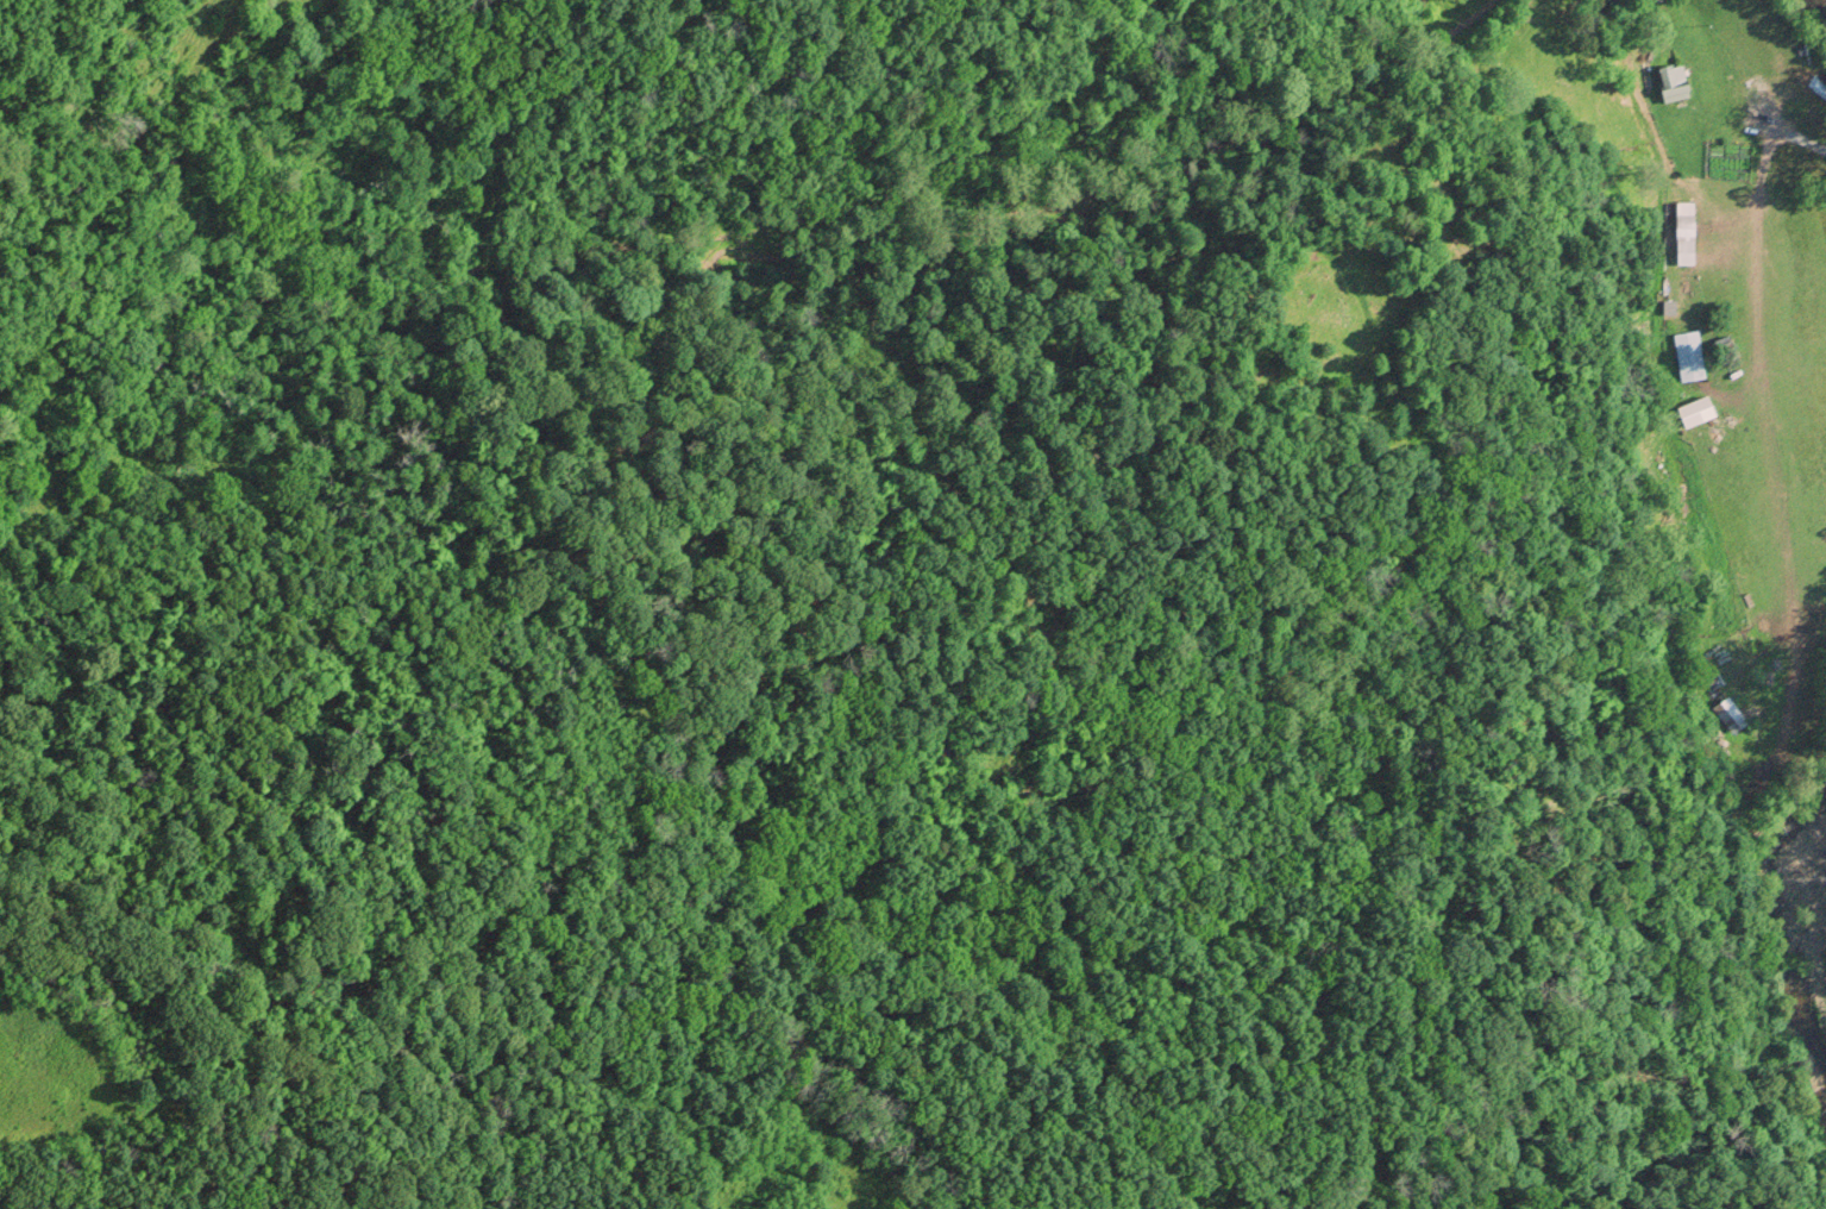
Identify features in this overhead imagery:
river: (1814, 12)
building: (1669, 87)
building: (1683, 234)
building: (1687, 356)
road: (1762, 396)
building: (1693, 413)
building: (1727, 716)
river: (1778, 941)

